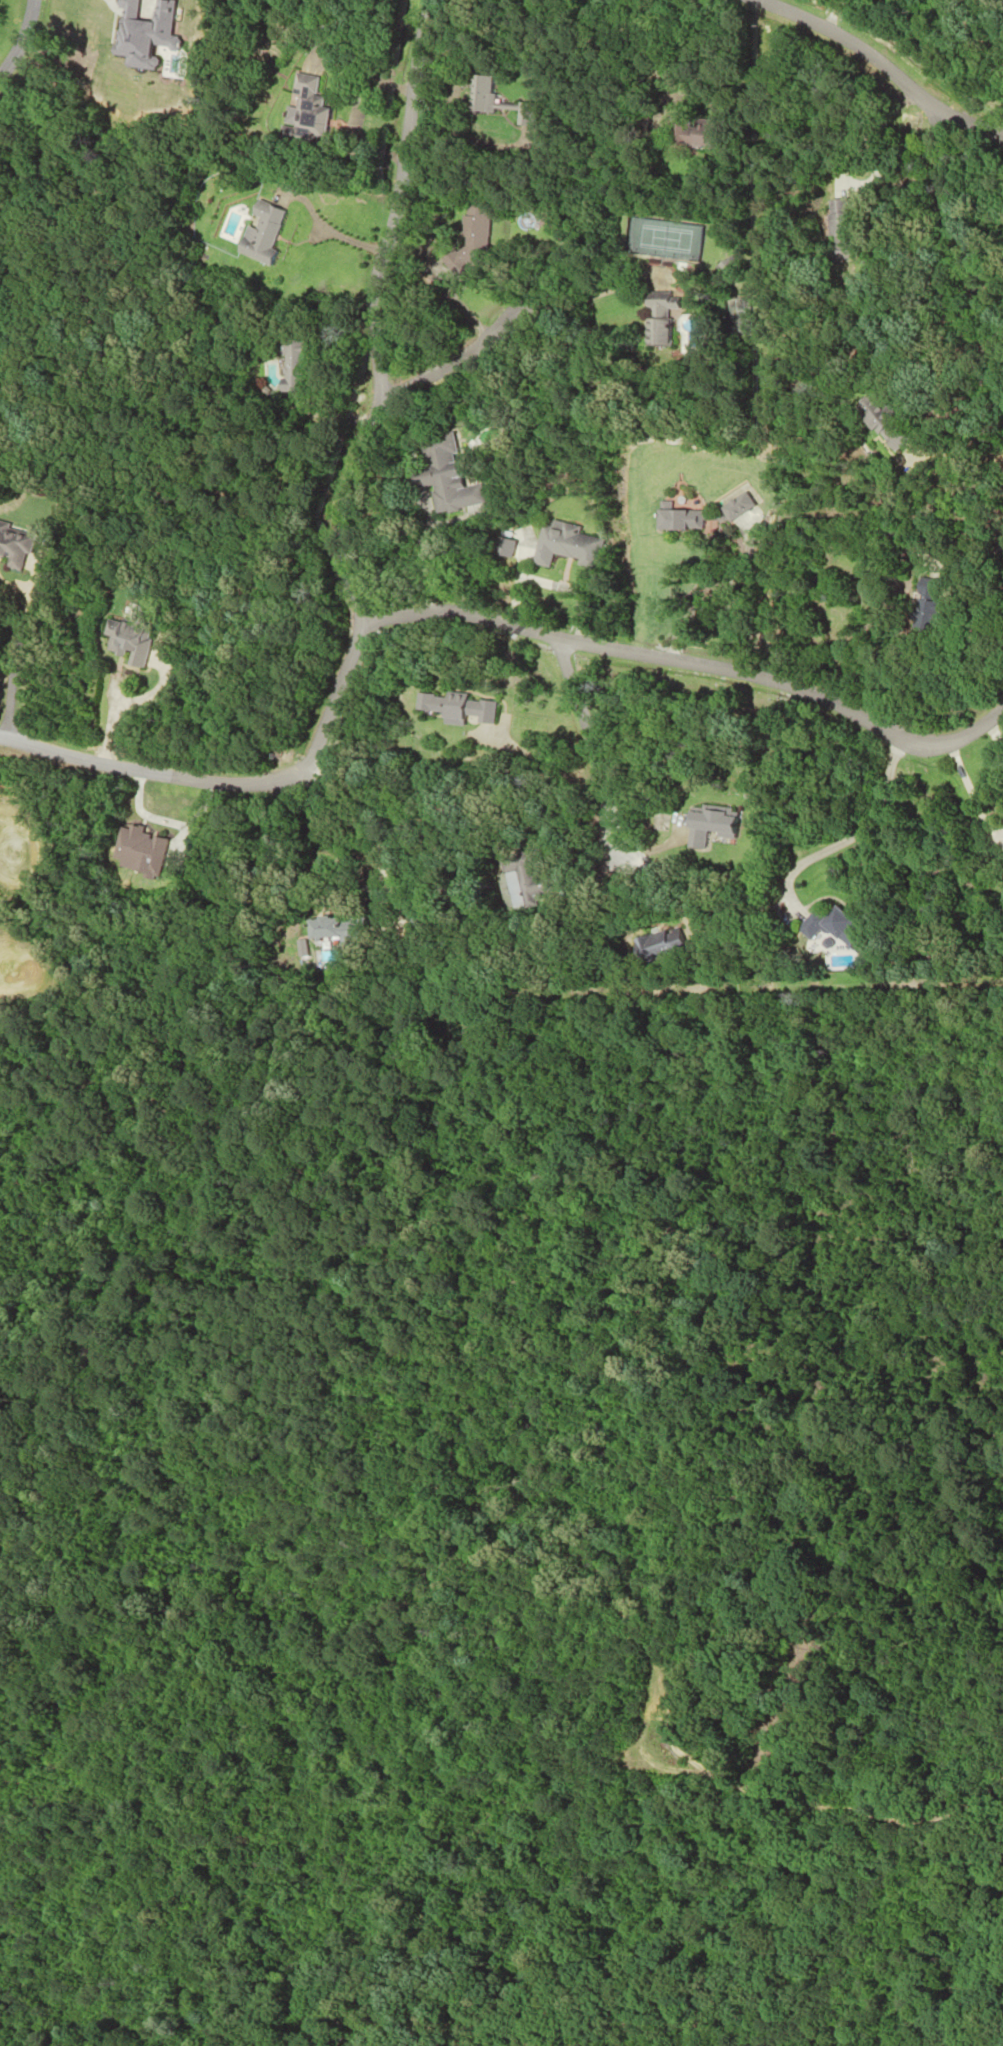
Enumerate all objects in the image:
road: (18, 37)
road: (881, 68)
building: (480, 94)
building: (304, 106)
building: (691, 132)
building: (472, 229)
building: (837, 230)
building: (256, 233)
road: (959, 256)
building: (728, 265)
building: (660, 300)
building: (741, 314)
road: (365, 315)
road: (514, 318)
building: (655, 331)
building: (289, 363)
building: (881, 422)
building: (443, 475)
building: (677, 519)
building: (563, 544)
building: (14, 545)
building: (922, 609)
road: (463, 612)
road: (16, 632)
building: (125, 641)
road: (110, 695)
road: (125, 702)
building: (454, 707)
road: (590, 746)
building: (711, 821)
road: (855, 832)
building: (537, 879)
building: (833, 927)
building: (334, 928)
building: (660, 945)

